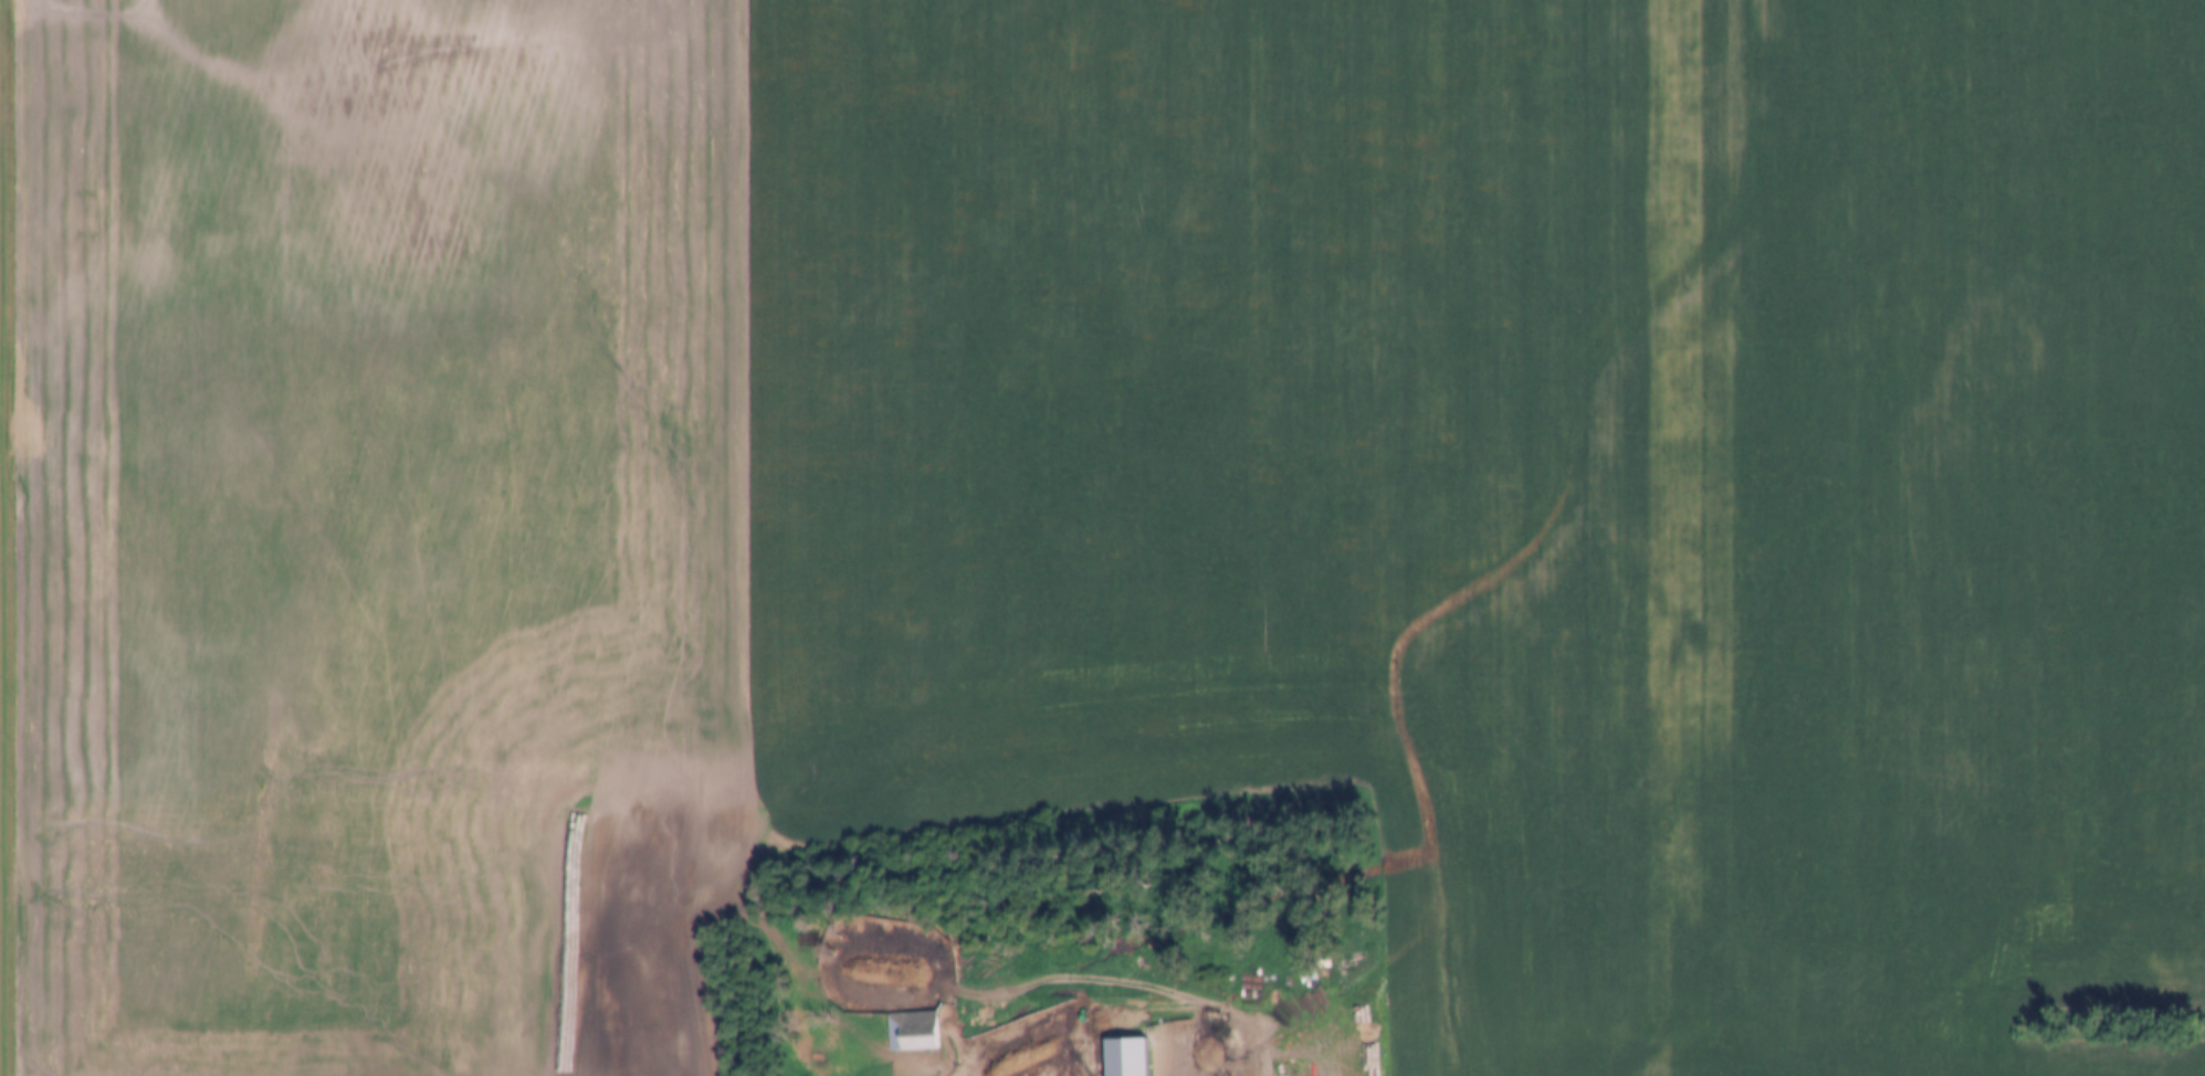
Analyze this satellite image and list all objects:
building: (914, 1028)
building: (1128, 1055)

